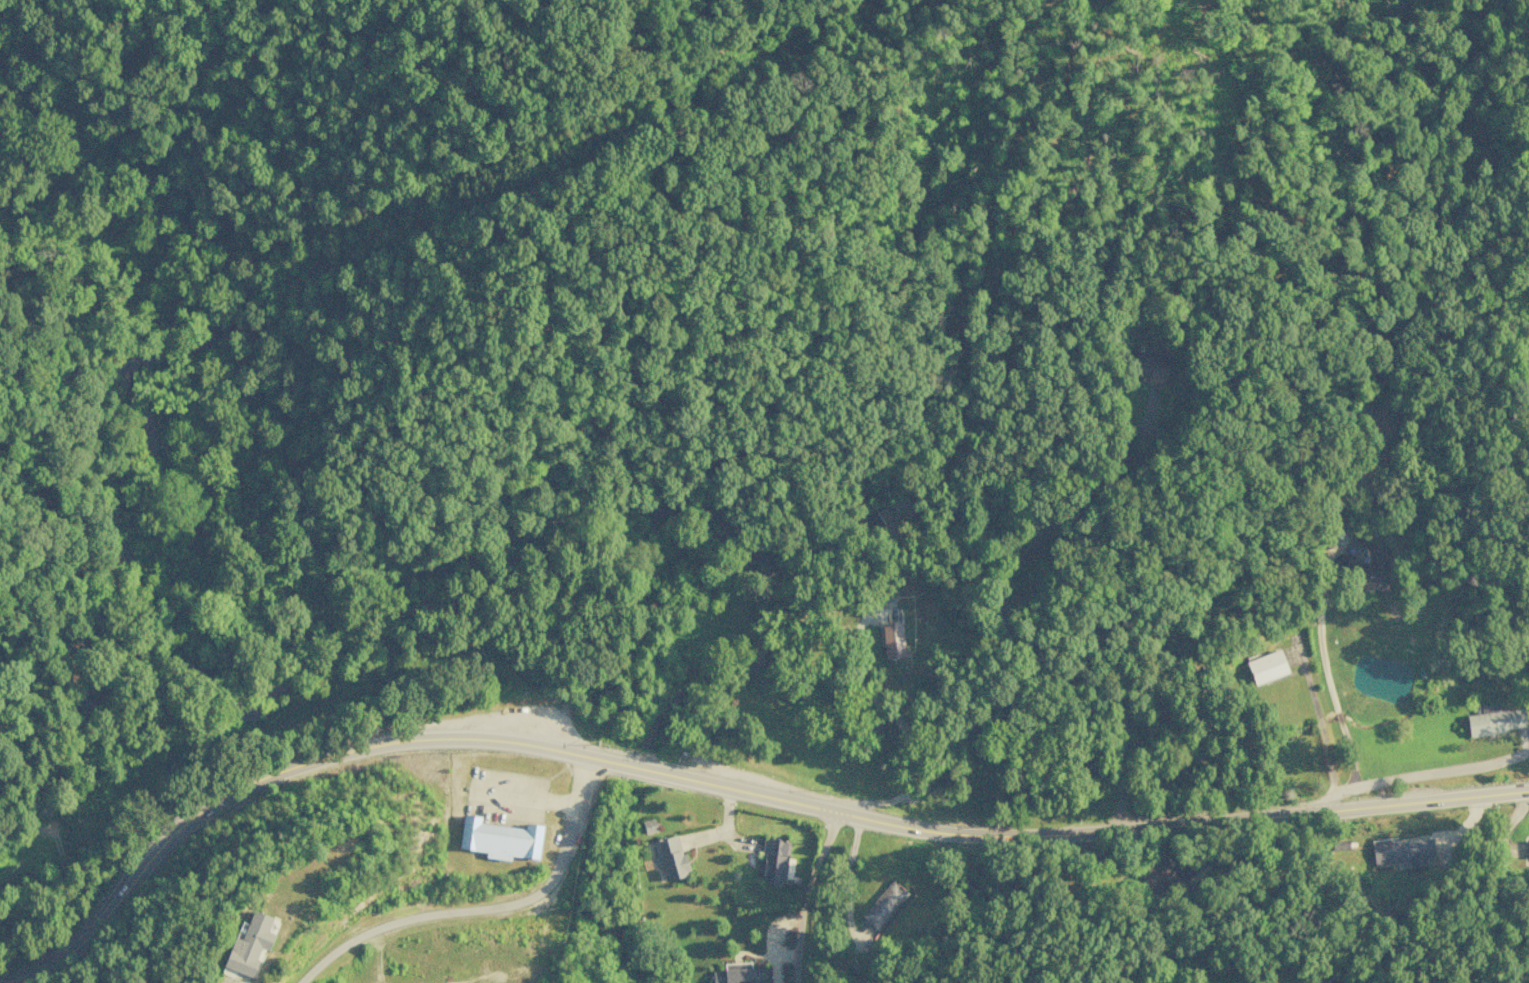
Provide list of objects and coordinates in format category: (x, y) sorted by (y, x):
building: (1148, 368)
building: (1373, 571)
building: (892, 640)
building: (1265, 667)
road: (1113, 678)
road: (945, 706)
building: (1495, 720)
road: (1412, 777)
road: (733, 787)
building: (648, 826)
building: (499, 839)
building: (1528, 847)
building: (1401, 851)
building: (669, 857)
building: (773, 860)
building: (1171, 873)
road: (807, 895)
road: (481, 904)
building: (883, 904)
building: (249, 944)
building: (737, 974)

